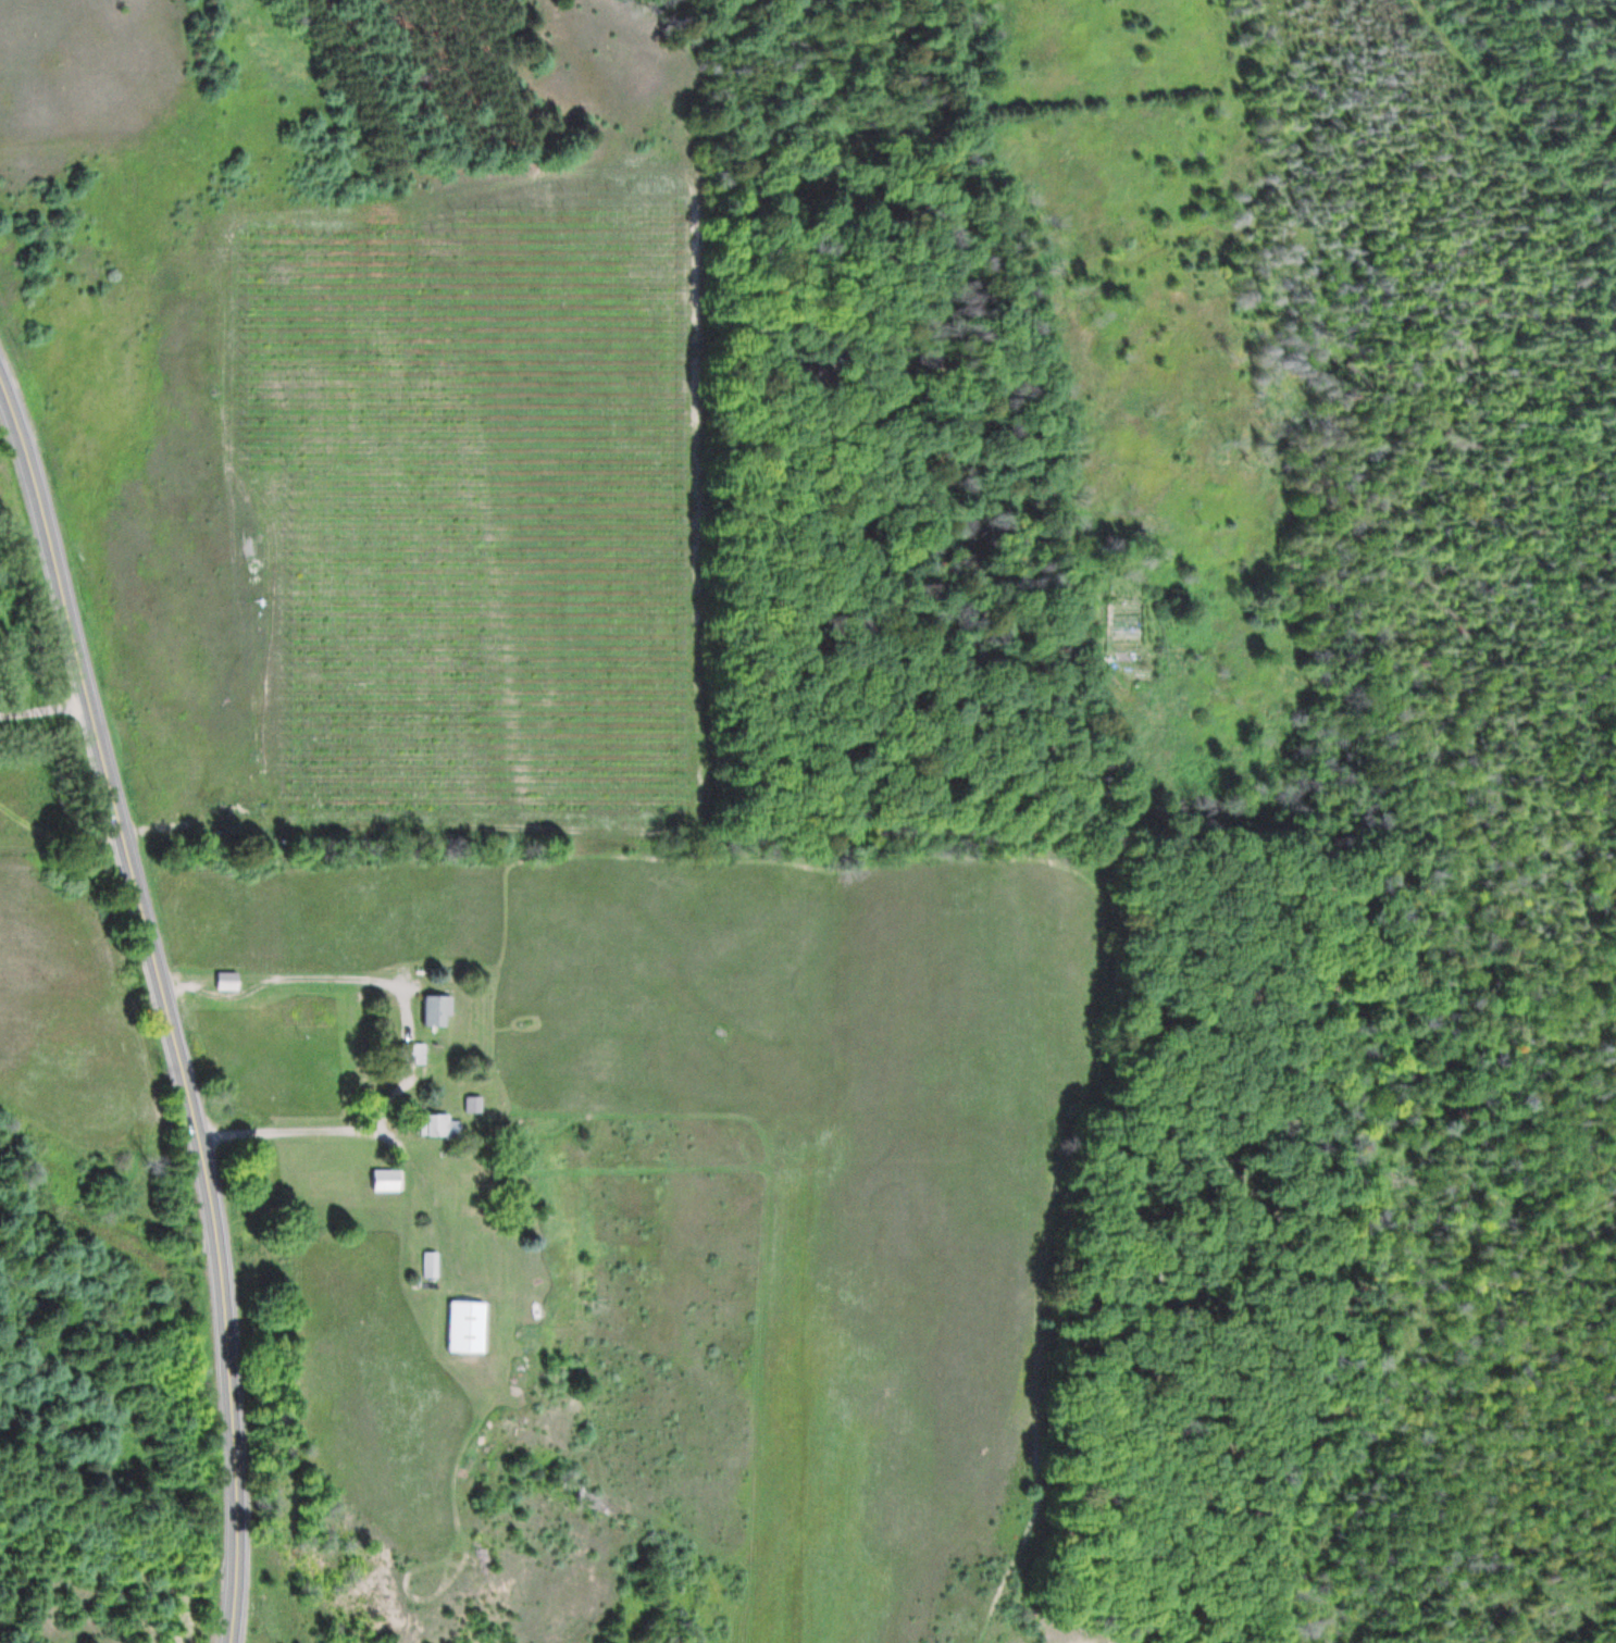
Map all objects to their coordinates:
building: (227, 980)
road: (166, 1005)
building: (436, 1010)
road: (403, 1045)
building: (474, 1104)
building: (445, 1125)
building: (386, 1180)
building: (430, 1267)
building: (469, 1327)

